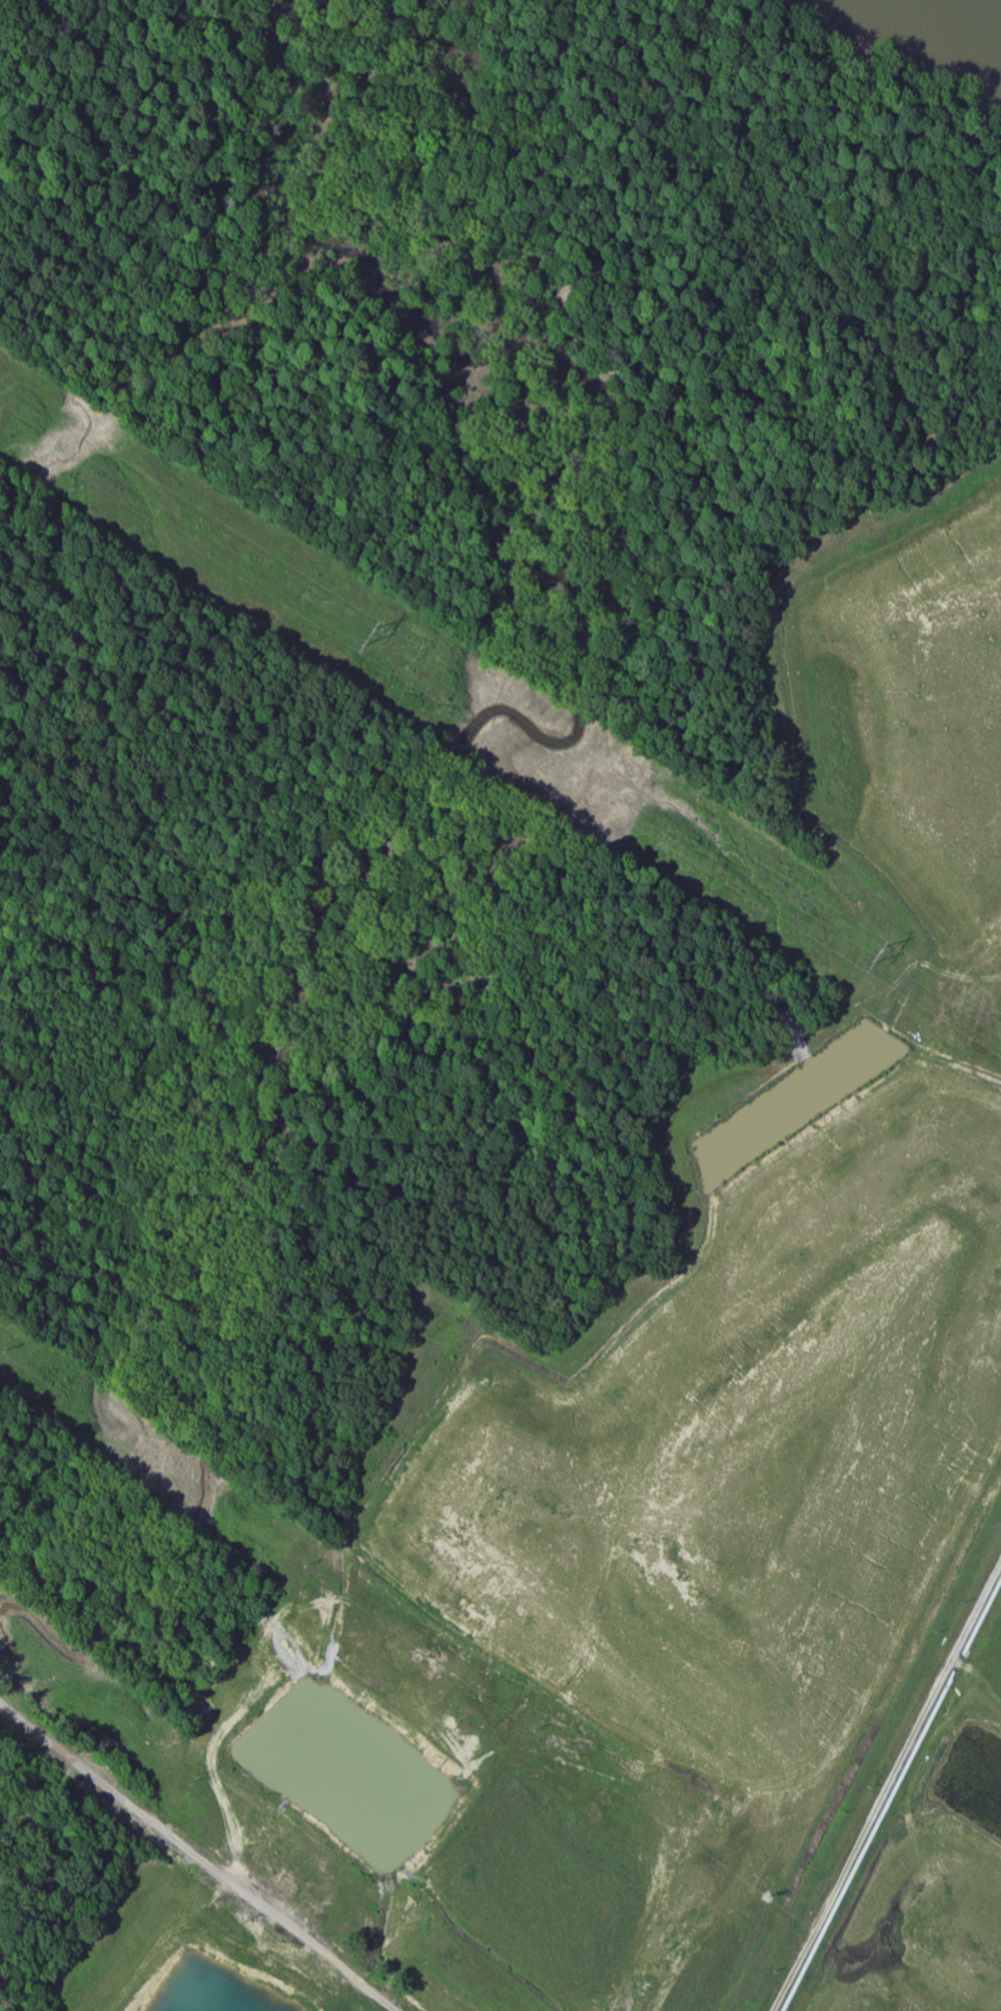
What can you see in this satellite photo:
power tower: (367, 638)
power tower: (873, 956)

